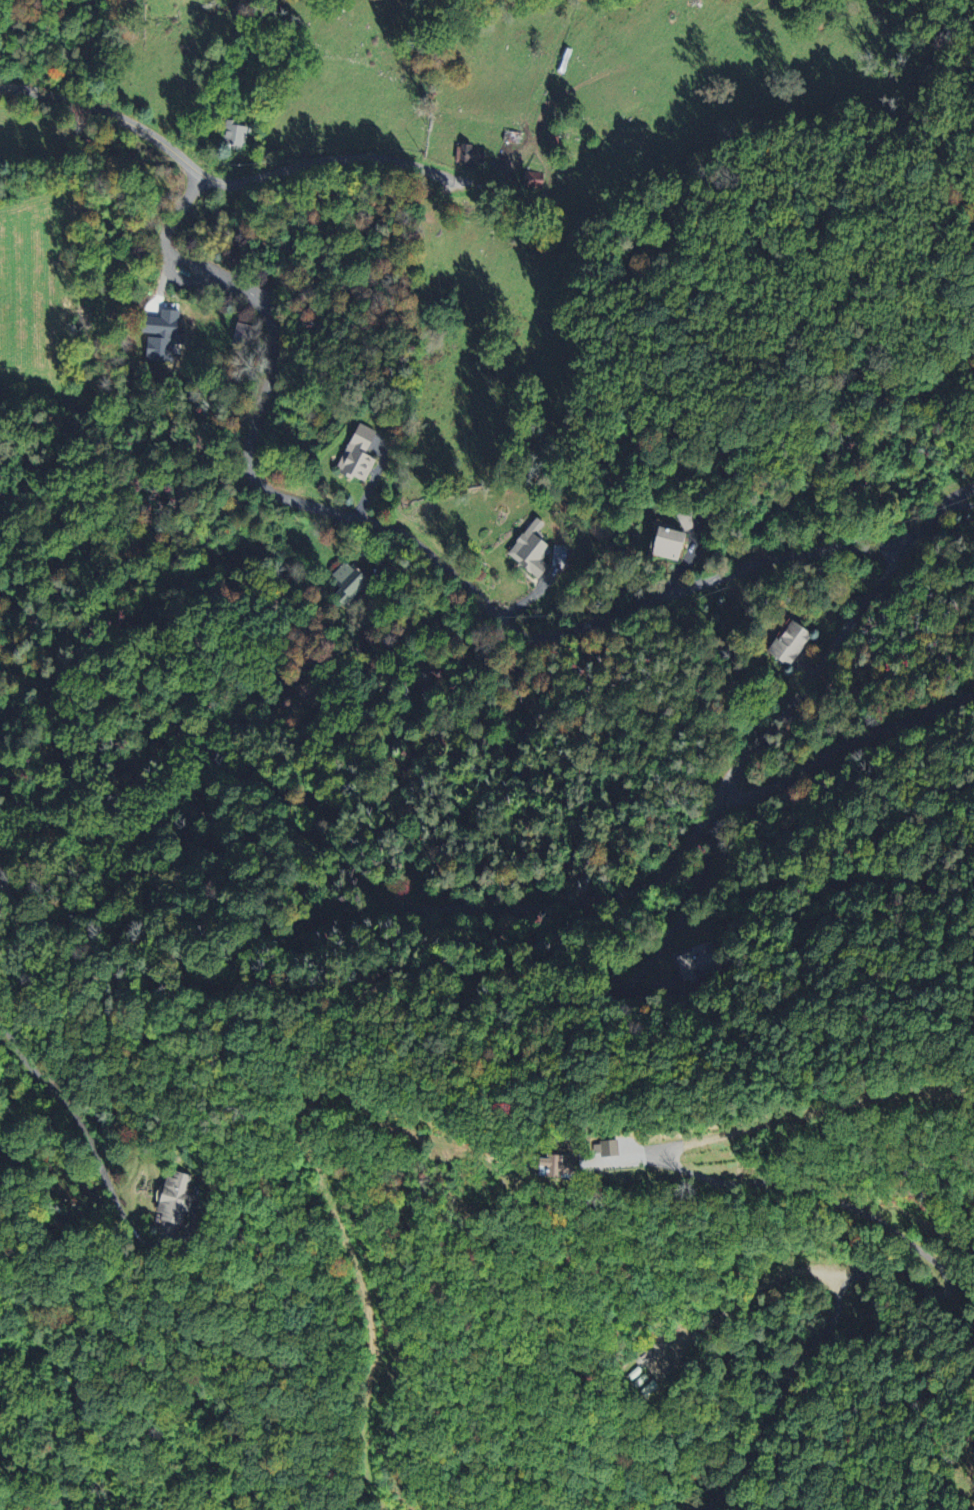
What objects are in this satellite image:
building: (233, 133)
building: (468, 155)
building: (531, 179)
road: (222, 180)
building: (159, 333)
building: (355, 453)
building: (686, 518)
building: (664, 541)
building: (529, 547)
road: (441, 561)
building: (348, 583)
building: (787, 642)
road: (844, 744)
road: (702, 825)
road: (678, 923)
building: (693, 960)
road: (73, 1116)
building: (603, 1147)
building: (553, 1165)
road: (950, 1282)

